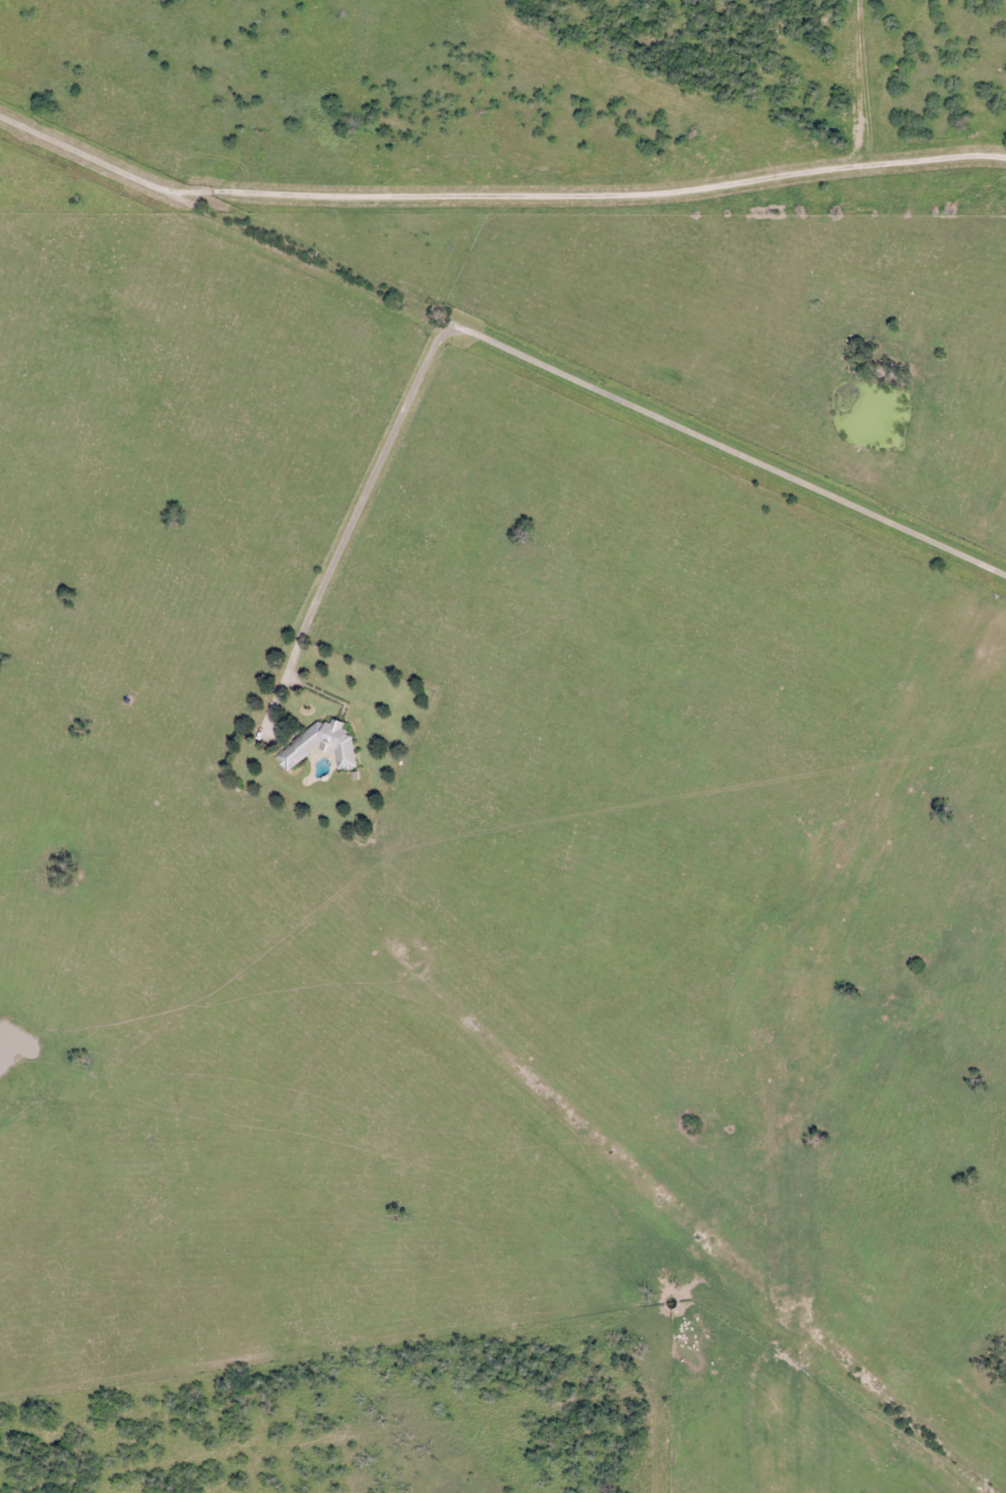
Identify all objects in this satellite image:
road: (867, 242)
road: (501, 321)
building: (299, 747)
road: (503, 1253)

